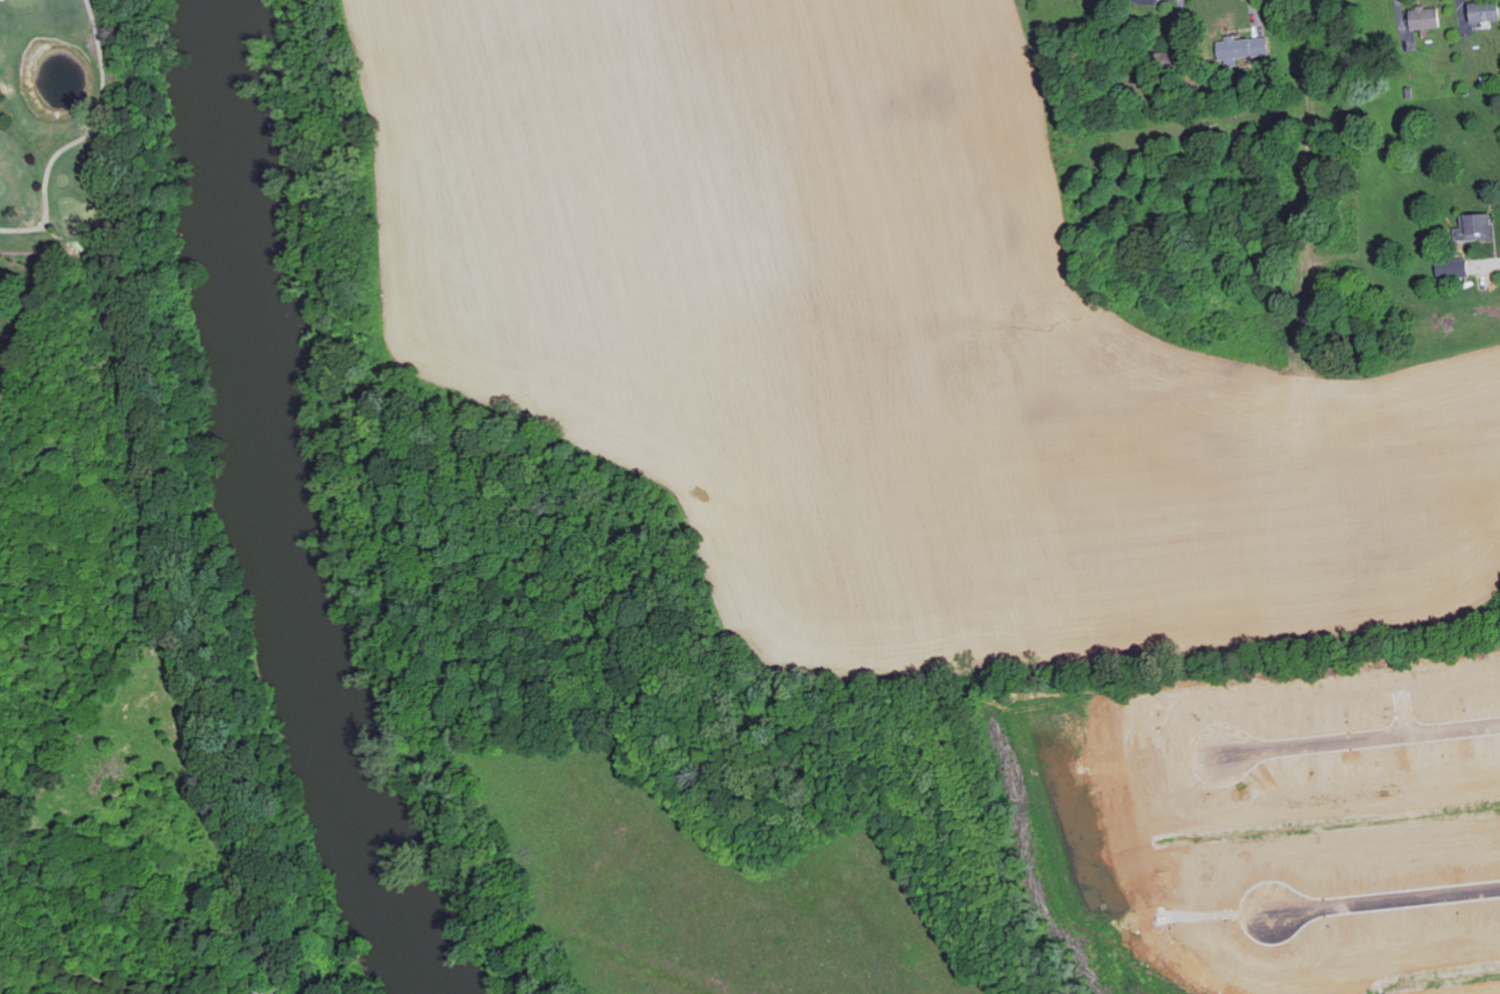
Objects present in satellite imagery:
building: (1486, 10)
building: (1427, 17)
building: (1245, 47)
park: (69, 127)
building: (1454, 268)
river: (254, 509)
road: (1365, 737)
road: (1387, 899)
road: (65, 976)
building: (271, 993)

